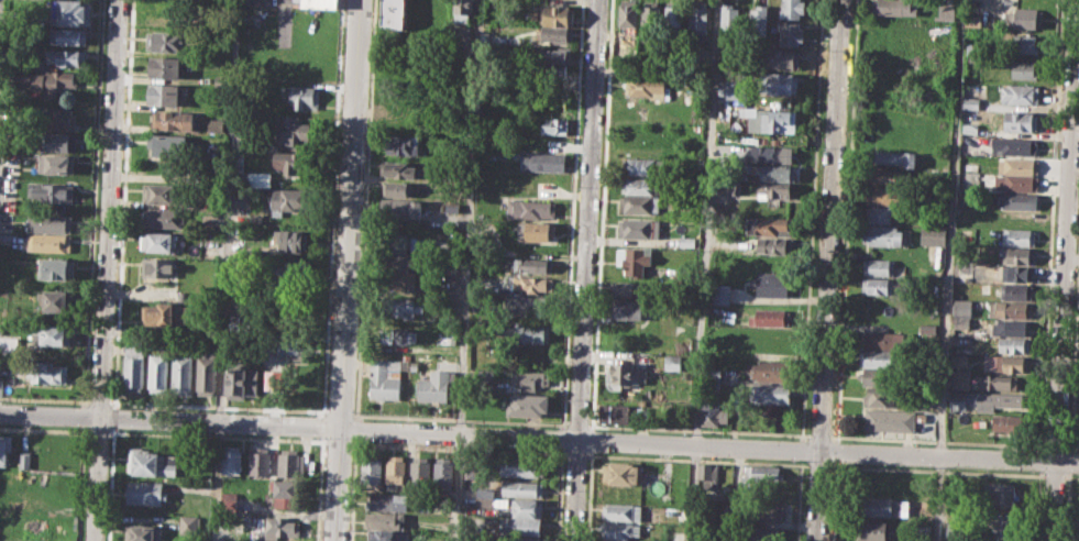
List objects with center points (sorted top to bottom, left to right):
road: (0, 3)
building: (319, 3)
building: (439, 5)
building: (893, 7)
building: (792, 9)
building: (461, 10)
building: (70, 12)
building: (946, 12)
building: (167, 13)
building: (394, 13)
building: (557, 14)
building: (628, 14)
building: (698, 16)
building: (652, 18)
building: (1028, 18)
building: (673, 19)
building: (729, 19)
building: (975, 21)
building: (759, 22)
building: (791, 33)
building: (67, 35)
building: (555, 35)
building: (164, 41)
building: (1025, 44)
building: (970, 48)
building: (555, 55)
building: (65, 56)
building: (782, 59)
building: (164, 67)
building: (1025, 69)
building: (220, 80)
building: (42, 82)
building: (782, 84)
building: (645, 87)
building: (163, 95)
building: (1019, 95)
building: (302, 96)
building: (58, 118)
building: (173, 120)
building: (771, 120)
building: (1021, 120)
building: (214, 124)
building: (554, 125)
building: (295, 130)
building: (60, 142)
building: (542, 143)
building: (401, 144)
building: (1017, 144)
building: (172, 147)
building: (768, 154)
building: (893, 157)
building: (294, 162)
building: (542, 162)
building: (698, 163)
building: (55, 164)
building: (1017, 165)
building: (642, 166)
building: (971, 166)
building: (397, 169)
building: (777, 173)
building: (882, 176)
building: (258, 179)
building: (1016, 183)
building: (642, 185)
building: (397, 188)
building: (773, 190)
building: (49, 191)
building: (165, 192)
building: (880, 195)
building: (290, 199)
building: (1017, 200)
building: (640, 205)
building: (451, 207)
building: (401, 208)
building: (531, 208)
road: (331, 209)
road: (227, 210)
building: (882, 214)
building: (163, 217)
road: (811, 217)
road: (846, 220)
building: (49, 222)
building: (768, 225)
building: (641, 228)
building: (537, 231)
building: (881, 235)
building: (933, 235)
building: (1019, 236)
building: (290, 240)
building: (686, 241)
building: (157, 242)
building: (49, 243)
building: (397, 243)
building: (771, 245)
building: (1016, 254)
building: (634, 260)
building: (399, 261)
building: (527, 266)
building: (158, 267)
building: (881, 267)
building: (55, 269)
road: (103, 269)
road: (702, 269)
road: (1064, 269)
building: (285, 270)
road: (348, 270)
road: (467, 270)
road: (584, 270)
road: (827, 270)
road: (947, 270)
building: (1017, 273)
building: (399, 279)
building: (771, 284)
building: (527, 285)
building: (877, 286)
building: (630, 288)
building: (1016, 291)
building: (722, 294)
building: (57, 300)
building: (527, 305)
building: (408, 306)
building: (962, 306)
building: (627, 309)
building: (1010, 309)
building: (165, 313)
building: (34, 316)
building: (769, 317)
building: (243, 322)
building: (961, 322)
building: (1012, 327)
building: (2, 328)
building: (928, 329)
building: (530, 331)
building: (397, 334)
building: (48, 335)
building: (770, 336)
building: (448, 340)
building: (882, 341)
building: (9, 345)
building: (1015, 345)
building: (290, 349)
building: (876, 358)
building: (959, 360)
building: (1006, 363)
building: (134, 364)
building: (771, 368)
building: (47, 371)
building: (206, 371)
building: (158, 372)
building: (628, 372)
building: (181, 374)
building: (879, 377)
building: (528, 378)
building: (711, 378)
building: (960, 378)
building: (242, 379)
building: (384, 379)
building: (997, 382)
building: (433, 385)
building: (770, 393)
building: (880, 397)
road: (44, 399)
building: (984, 399)
road: (98, 401)
building: (526, 404)
road: (212, 406)
road: (323, 410)
road: (338, 412)
building: (615, 412)
building: (715, 413)
road: (459, 418)
building: (892, 419)
building: (1013, 422)
road: (576, 424)
road: (319, 426)
road: (44, 428)
road: (696, 430)
road: (97, 431)
road: (217, 434)
road: (539, 434)
road: (817, 434)
road: (936, 440)
road: (339, 442)
road: (1054, 445)
building: (4, 446)
road: (1071, 446)
road: (458, 449)
road: (835, 451)
road: (575, 454)
building: (232, 459)
building: (23, 460)
building: (260, 460)
road: (696, 460)
building: (151, 462)
building: (288, 463)
road: (819, 464)
building: (521, 466)
building: (371, 468)
building: (419, 470)
road: (936, 470)
building: (442, 471)
building: (395, 472)
building: (620, 473)
building: (474, 474)
building: (707, 475)
building: (759, 475)
road: (1048, 475)
road: (216, 481)
building: (887, 483)
road: (319, 488)
building: (521, 488)
building: (144, 492)
building: (284, 494)
building: (1000, 494)
building: (485, 496)
building: (228, 499)
road: (833, 500)
building: (387, 501)
road: (797, 503)
building: (885, 506)
building: (527, 507)
building: (621, 511)
building: (767, 512)
building: (384, 519)
building: (187, 525)
building: (280, 526)
building: (520, 526)
building: (1002, 527)
building: (620, 529)
building: (954, 529)
building: (921, 530)
building: (876, 531)
building: (141, 532)
building: (387, 534)
building: (763, 534)
building: (524, 538)
building: (613, 540)

